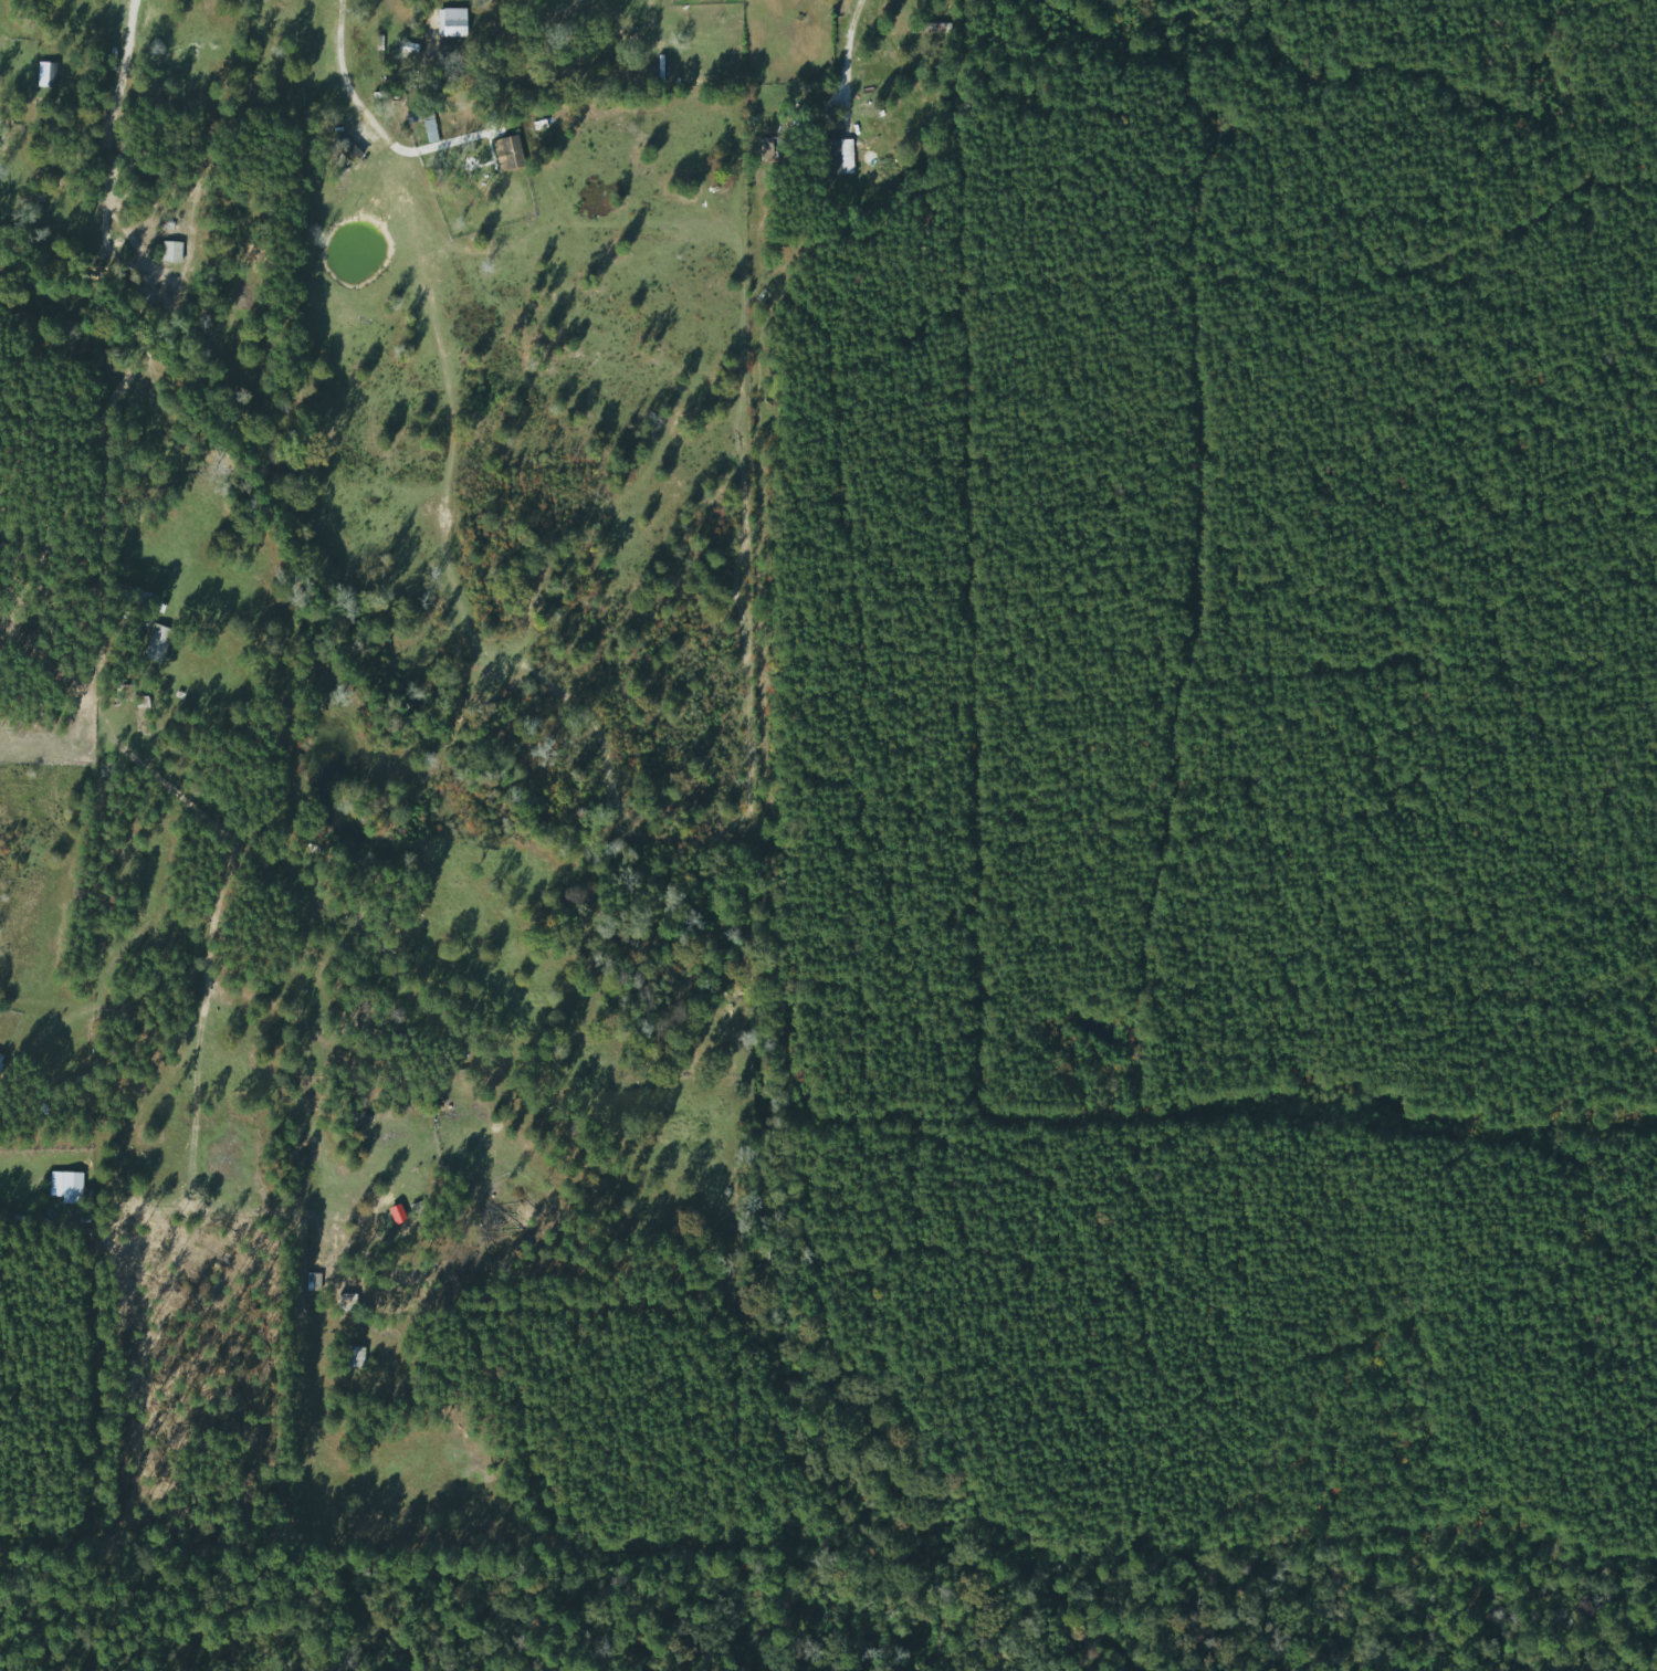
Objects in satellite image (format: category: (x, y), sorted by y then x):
building: (452, 22)
building: (407, 51)
road: (840, 69)
road: (373, 125)
road: (108, 137)
building: (511, 153)
building: (167, 250)
building: (3, 550)
building: (156, 643)
building: (0, 1059)

